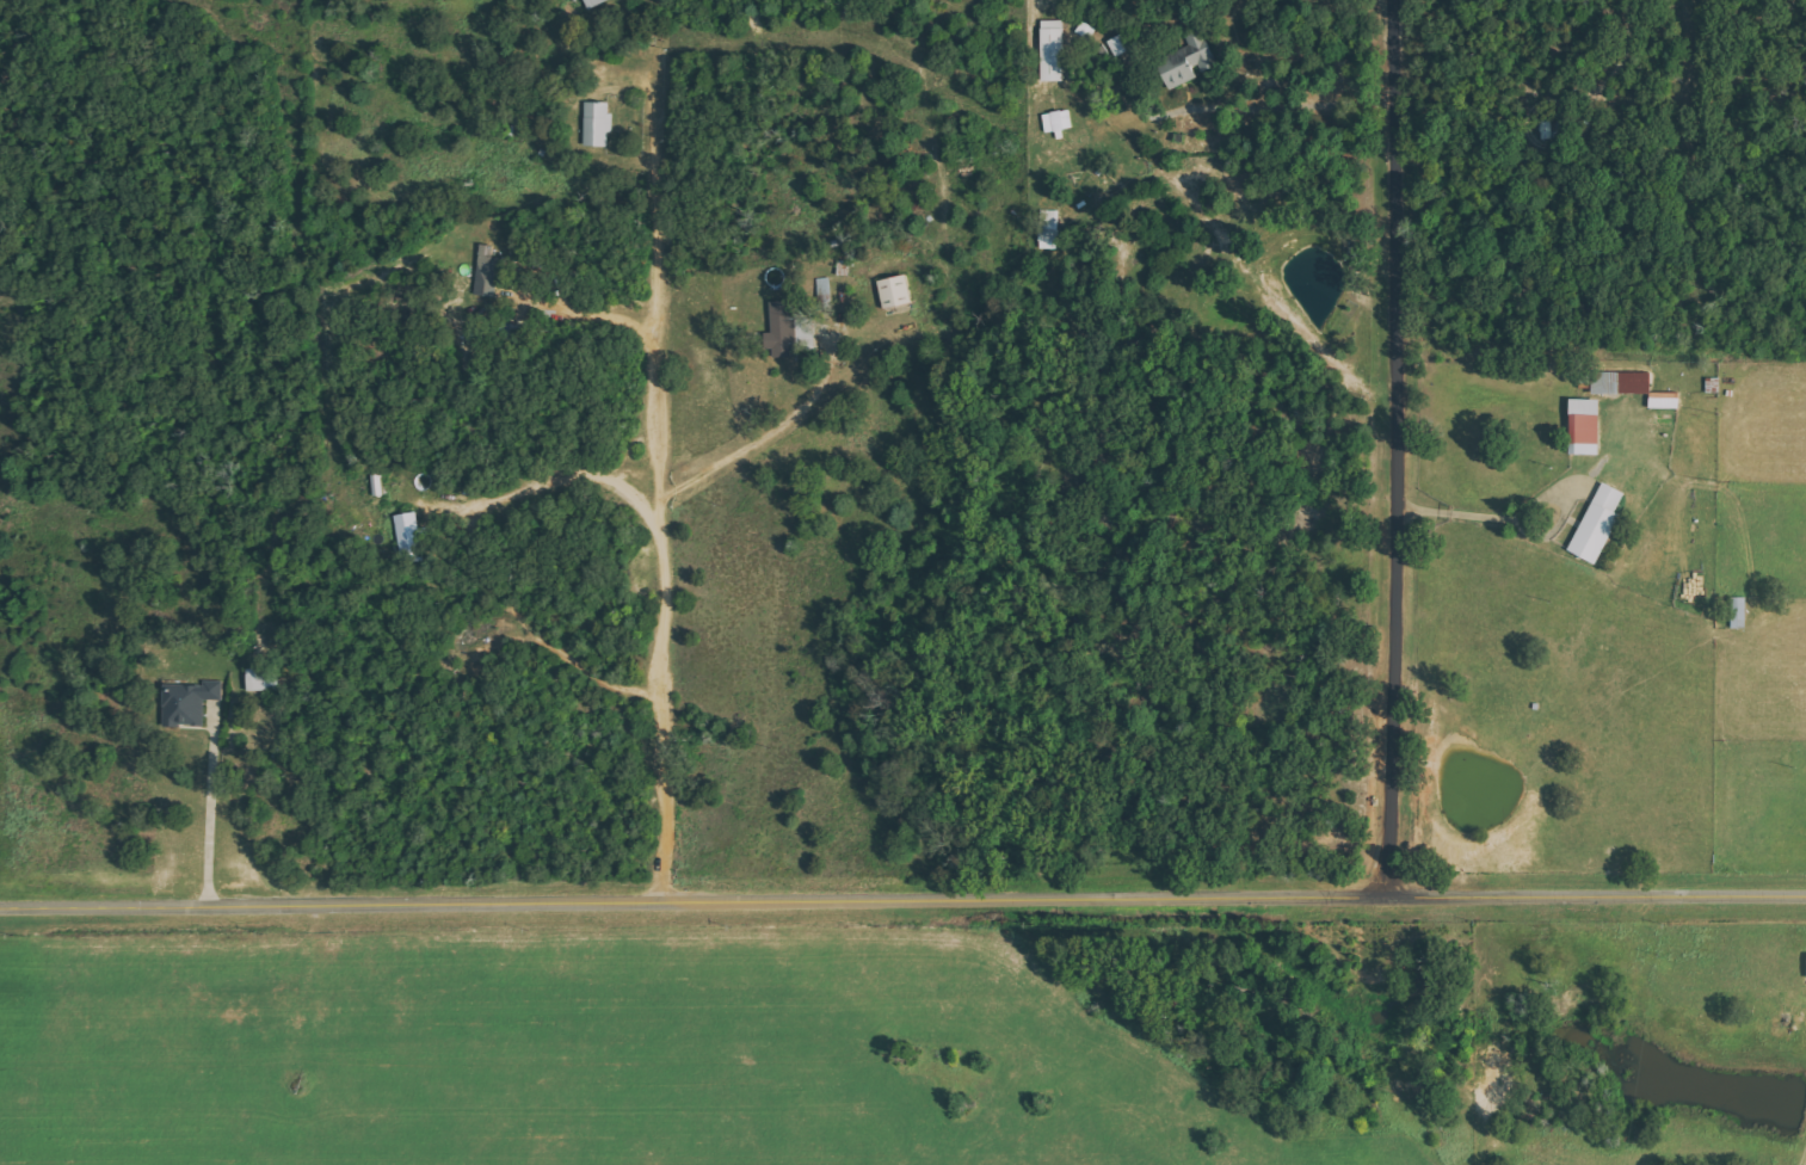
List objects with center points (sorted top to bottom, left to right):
building: (594, 2)
building: (1201, 49)
building: (1053, 50)
building: (1058, 121)
building: (597, 124)
building: (1049, 229)
building: (487, 271)
building: (895, 292)
building: (1622, 382)
building: (1665, 400)
building: (1586, 426)
road: (1399, 448)
building: (1598, 524)
building: (411, 538)
building: (1739, 612)
road: (1562, 674)
building: (263, 679)
building: (189, 703)
road: (902, 898)

